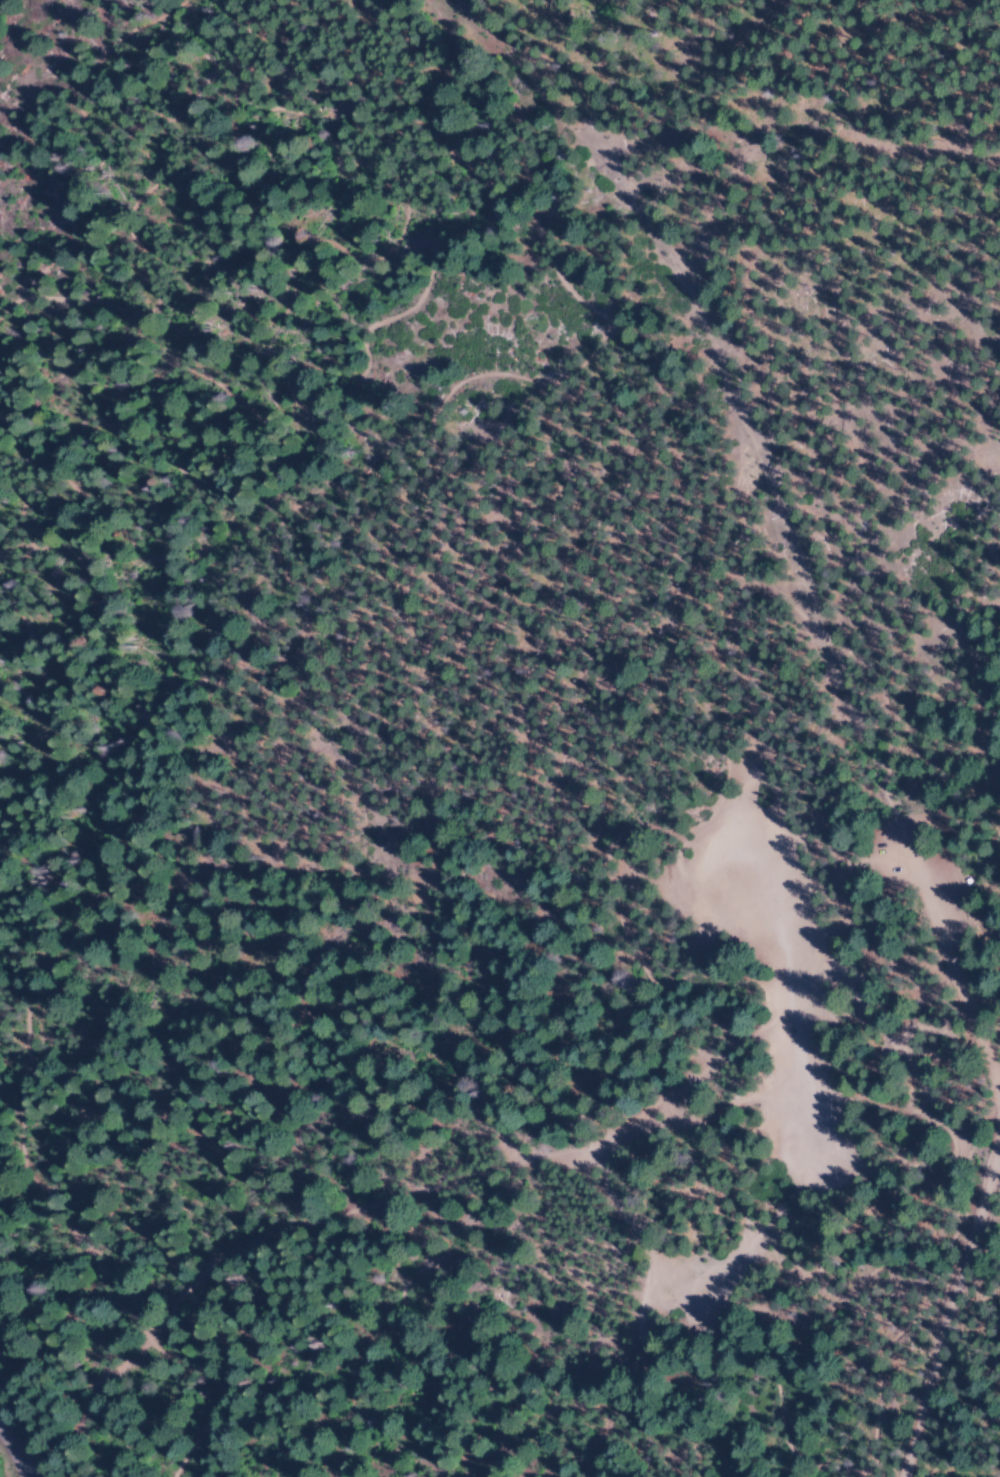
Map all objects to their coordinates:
road: (774, 509)
road: (947, 1300)
road: (14, 1451)

